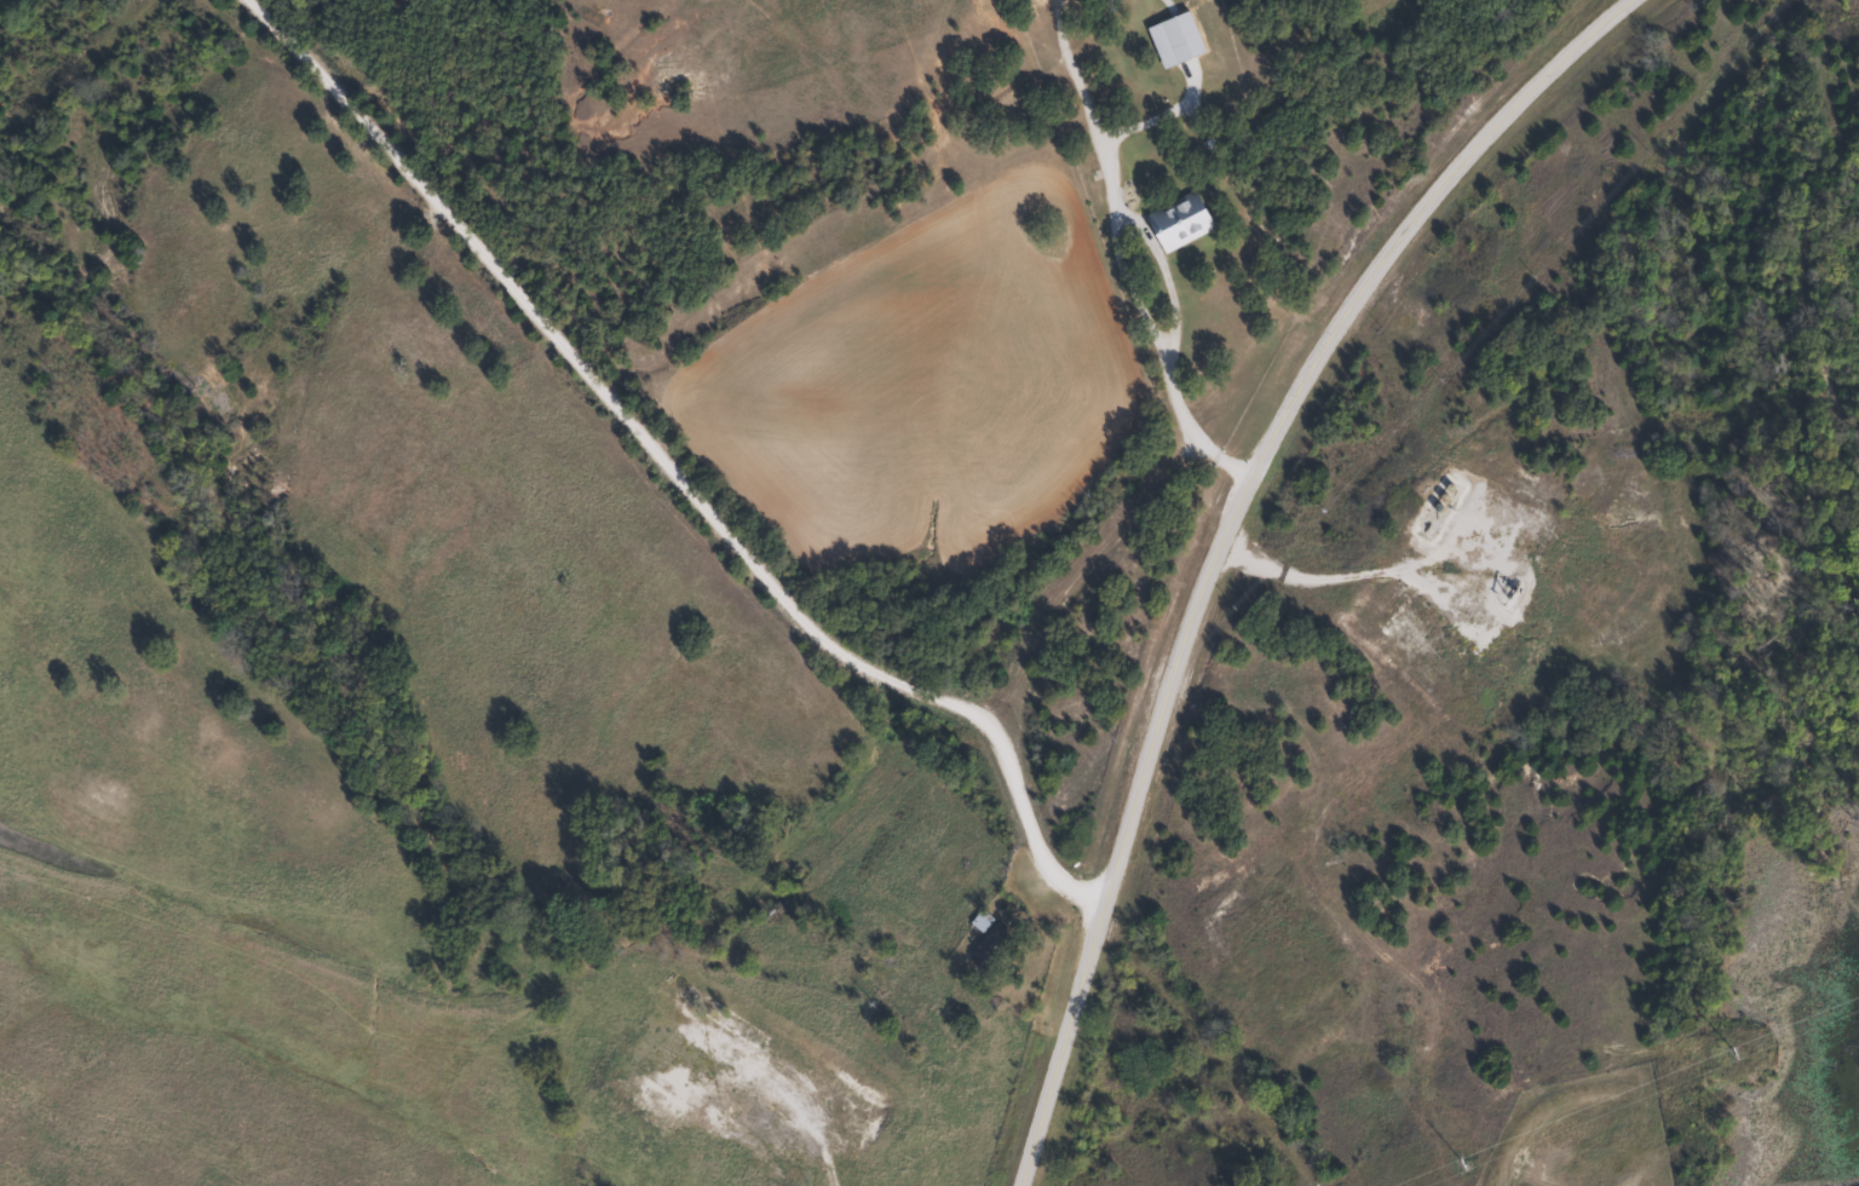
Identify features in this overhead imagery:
building: (1176, 38)
building: (1126, 65)
road: (1446, 184)
building: (1173, 223)
road: (675, 478)
road: (1374, 581)
road: (1138, 782)
building: (982, 942)
power tower: (1728, 1052)
power tower: (1460, 1163)

